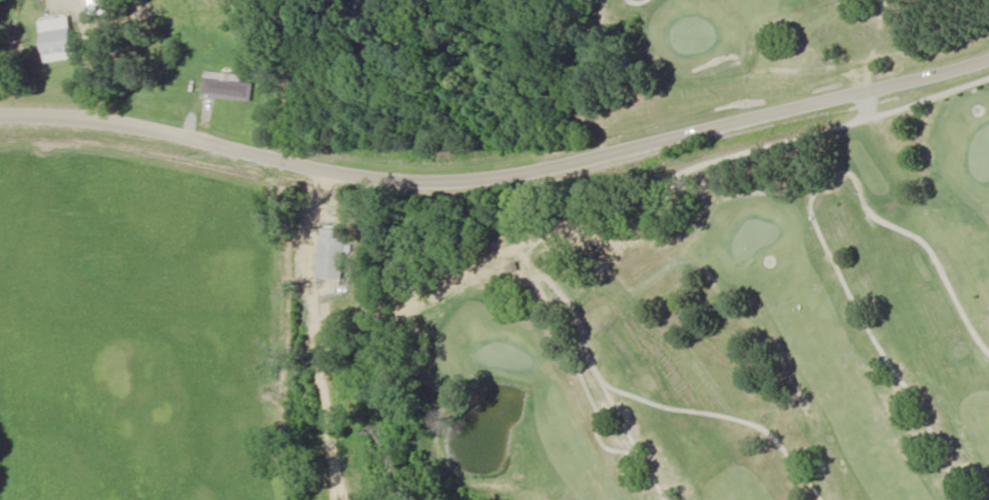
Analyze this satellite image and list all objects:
building: (245, 39)
building: (60, 42)
building: (226, 86)
road: (498, 159)
building: (331, 253)
park: (640, 253)

